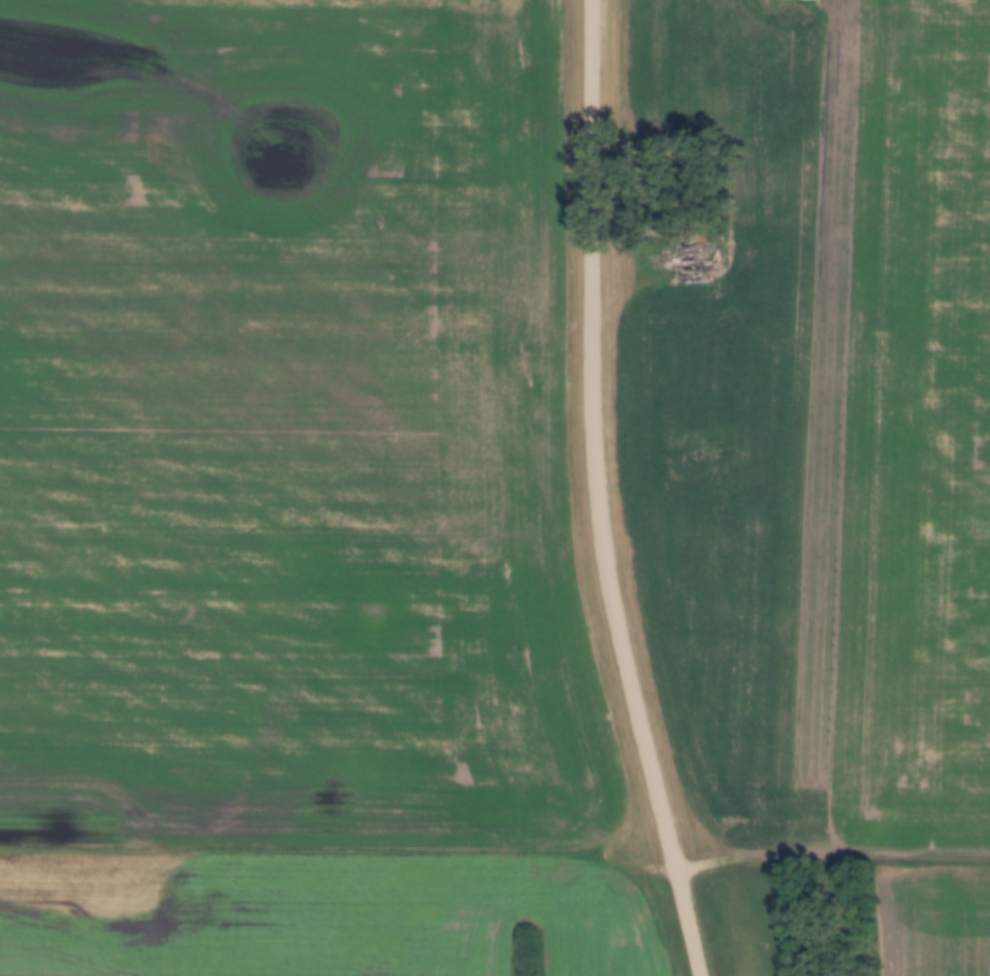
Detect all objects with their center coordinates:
road: (593, 494)
road: (831, 850)

